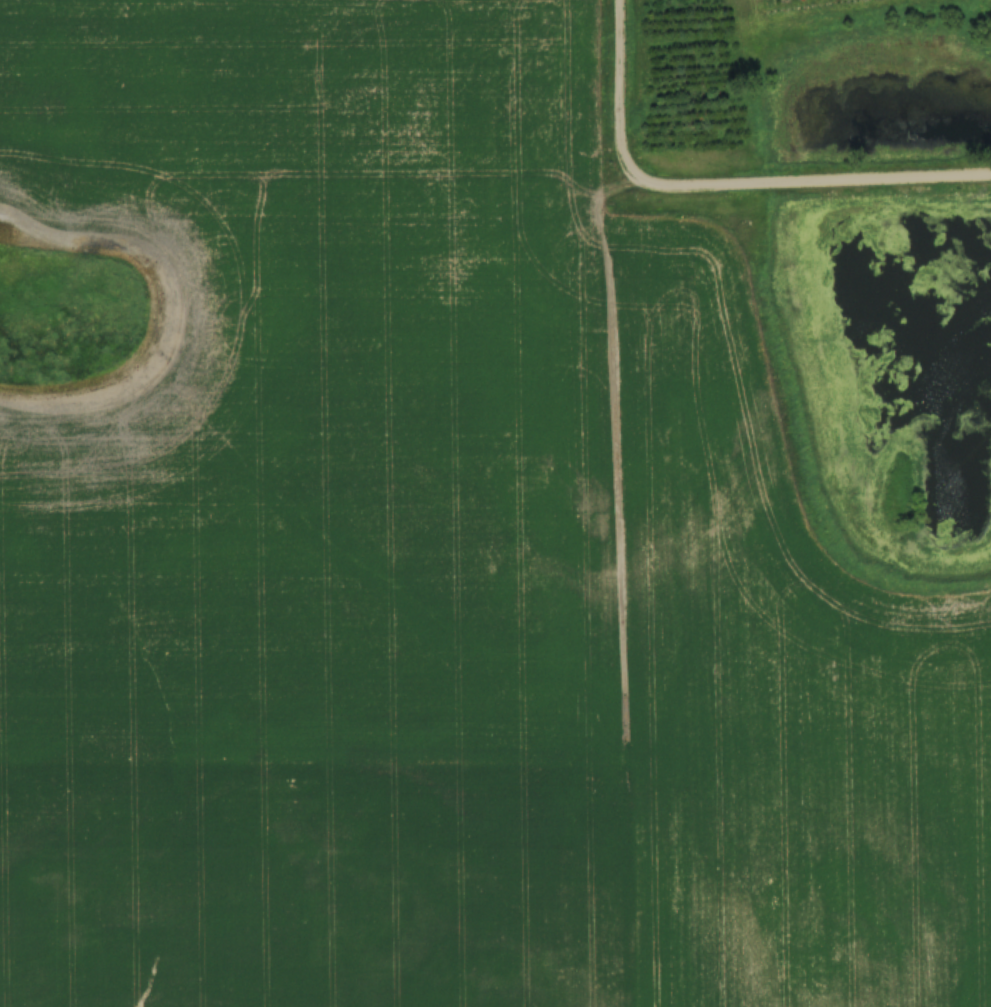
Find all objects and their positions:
road: (725, 181)

